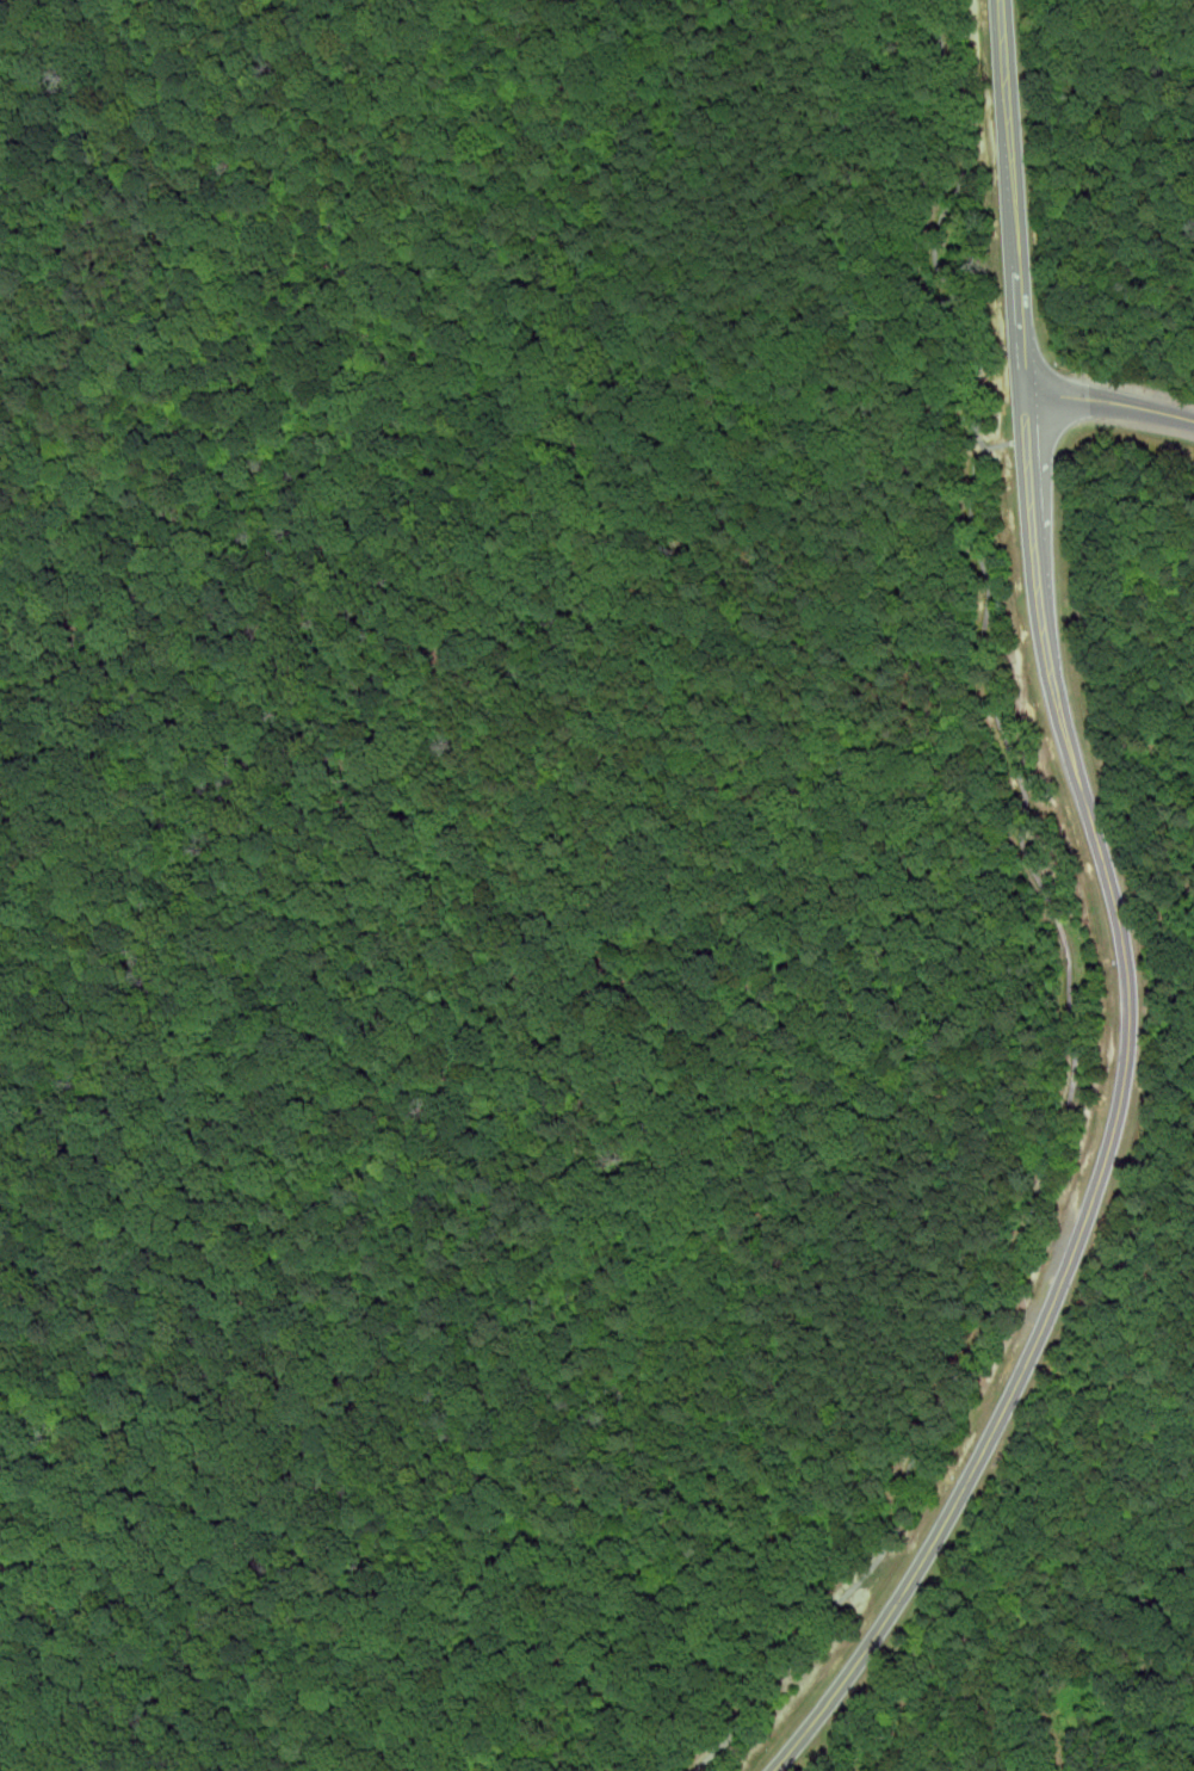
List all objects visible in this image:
road: (939, 224)
road: (1111, 400)
road: (1022, 440)
road: (1121, 925)
road: (1059, 1135)

